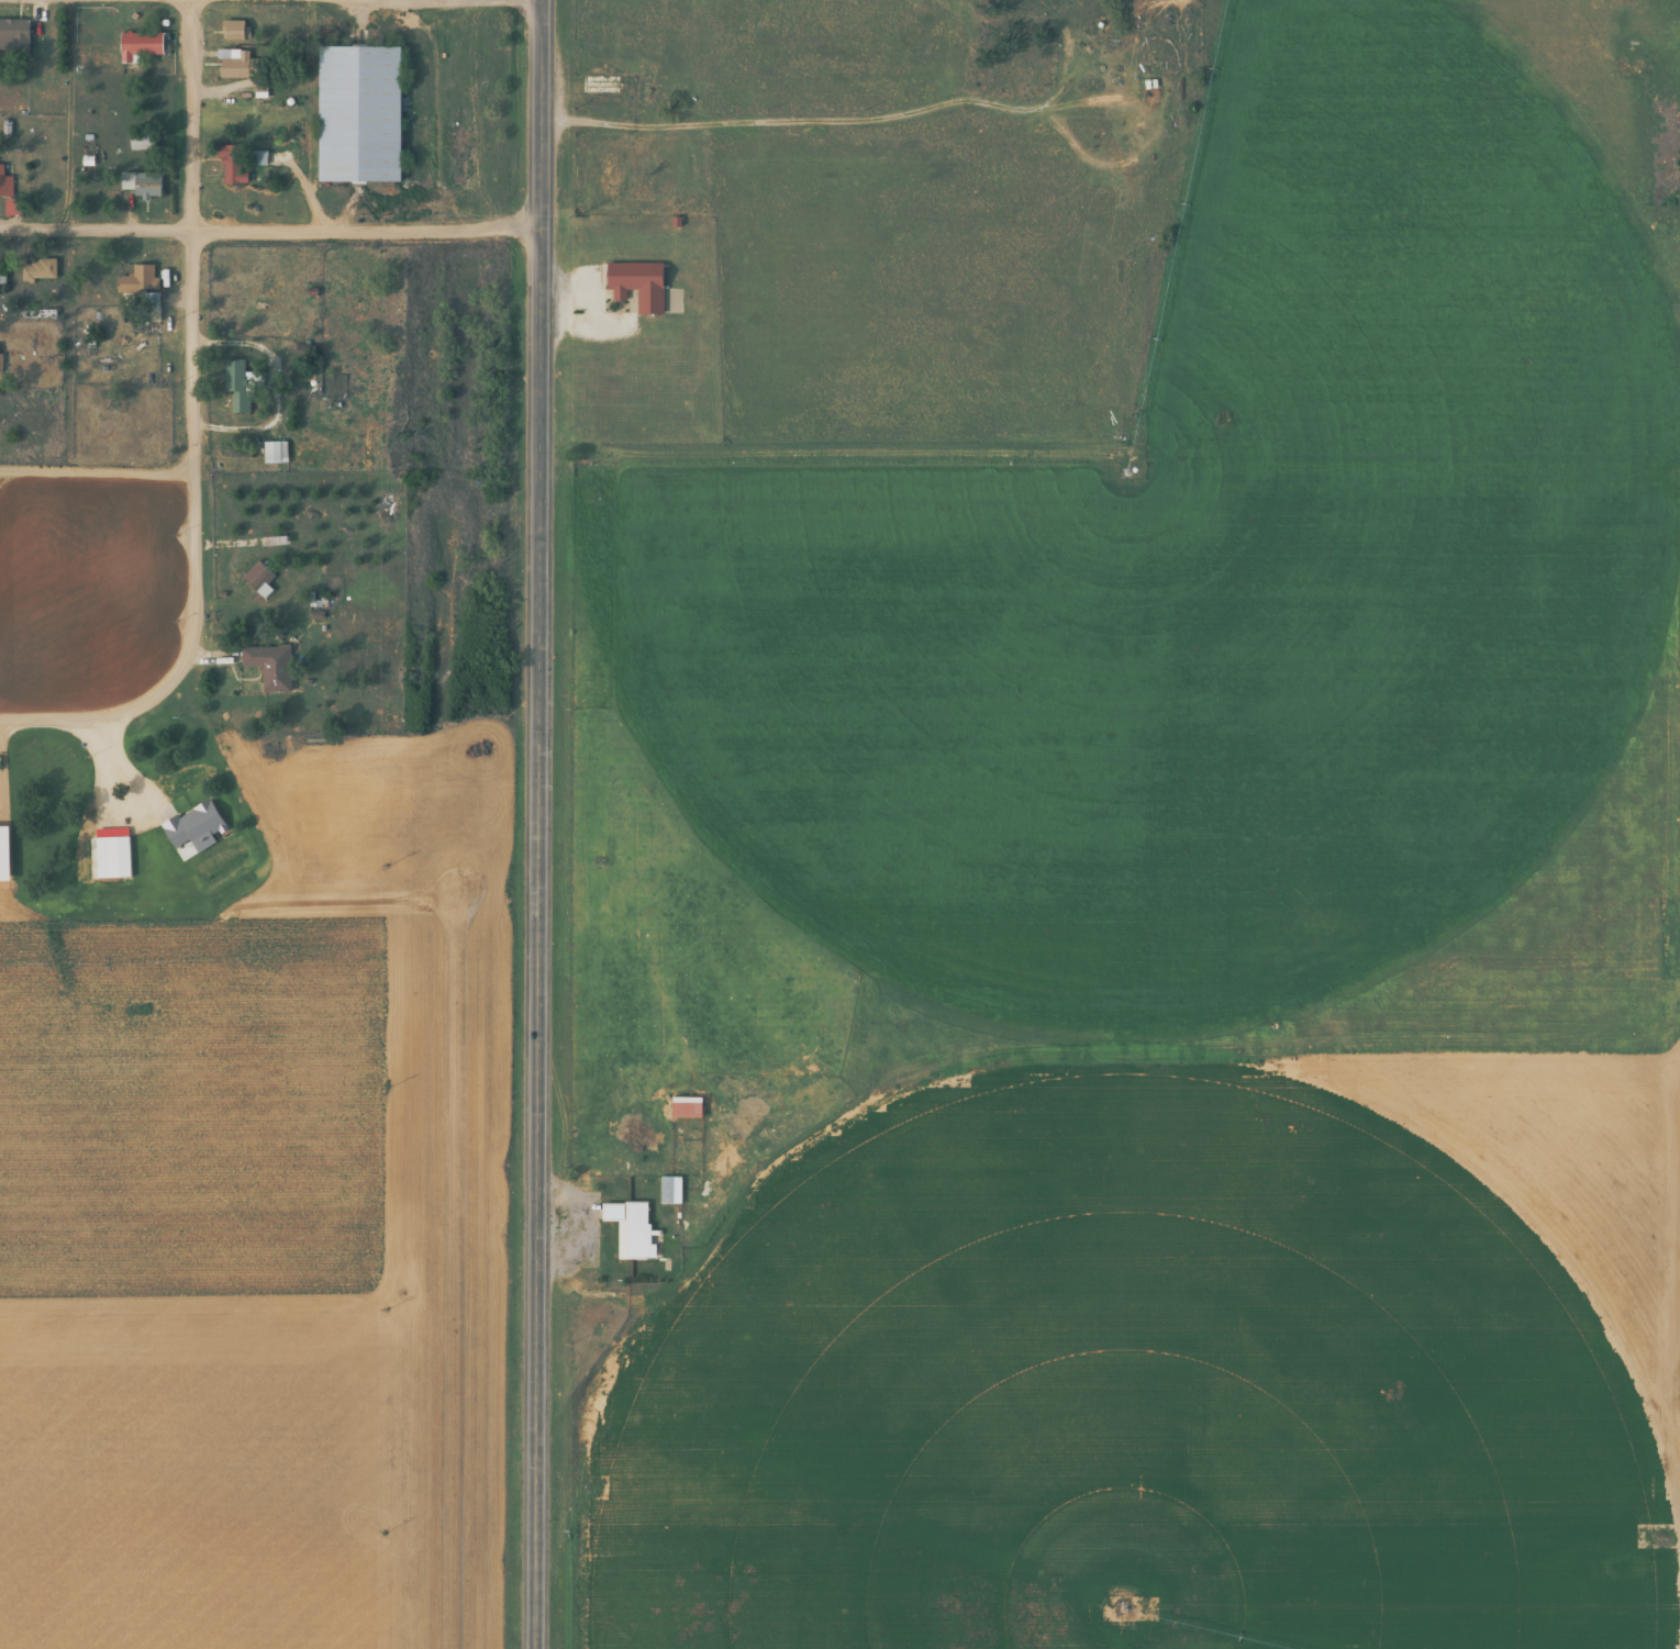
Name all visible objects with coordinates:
building: (232, 31)
building: (13, 35)
building: (141, 46)
building: (235, 65)
building: (358, 115)
building: (232, 164)
building: (141, 185)
building: (4, 186)
road: (271, 233)
building: (37, 269)
building: (137, 281)
building: (636, 285)
road: (189, 359)
building: (235, 386)
building: (16, 419)
building: (274, 453)
road: (94, 471)
building: (258, 580)
building: (269, 666)
road: (74, 721)
road: (539, 824)
building: (194, 826)
building: (3, 854)
building: (111, 857)
building: (685, 1107)
building: (669, 1190)
building: (630, 1228)

